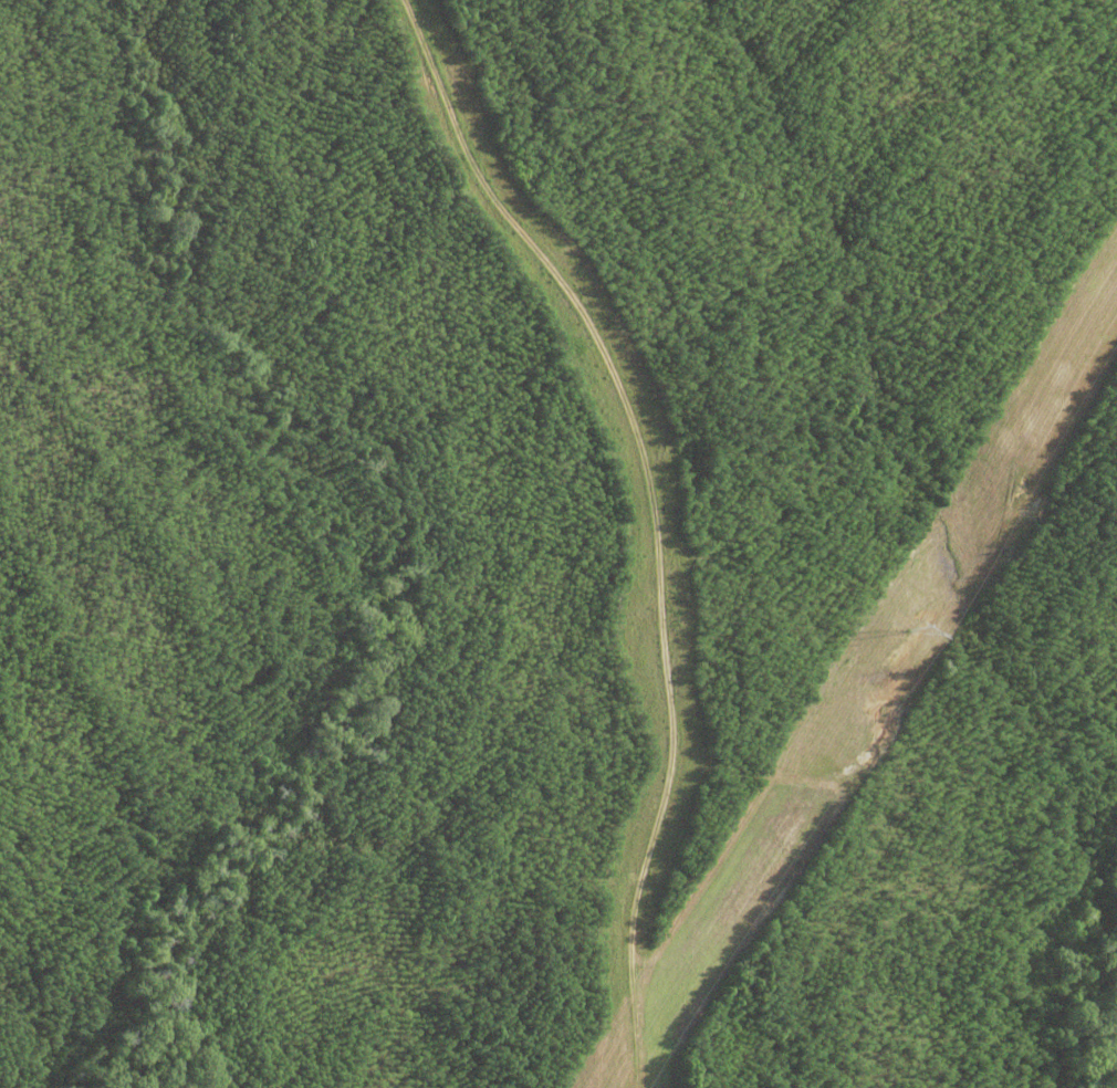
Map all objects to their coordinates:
power tower: (906, 631)

